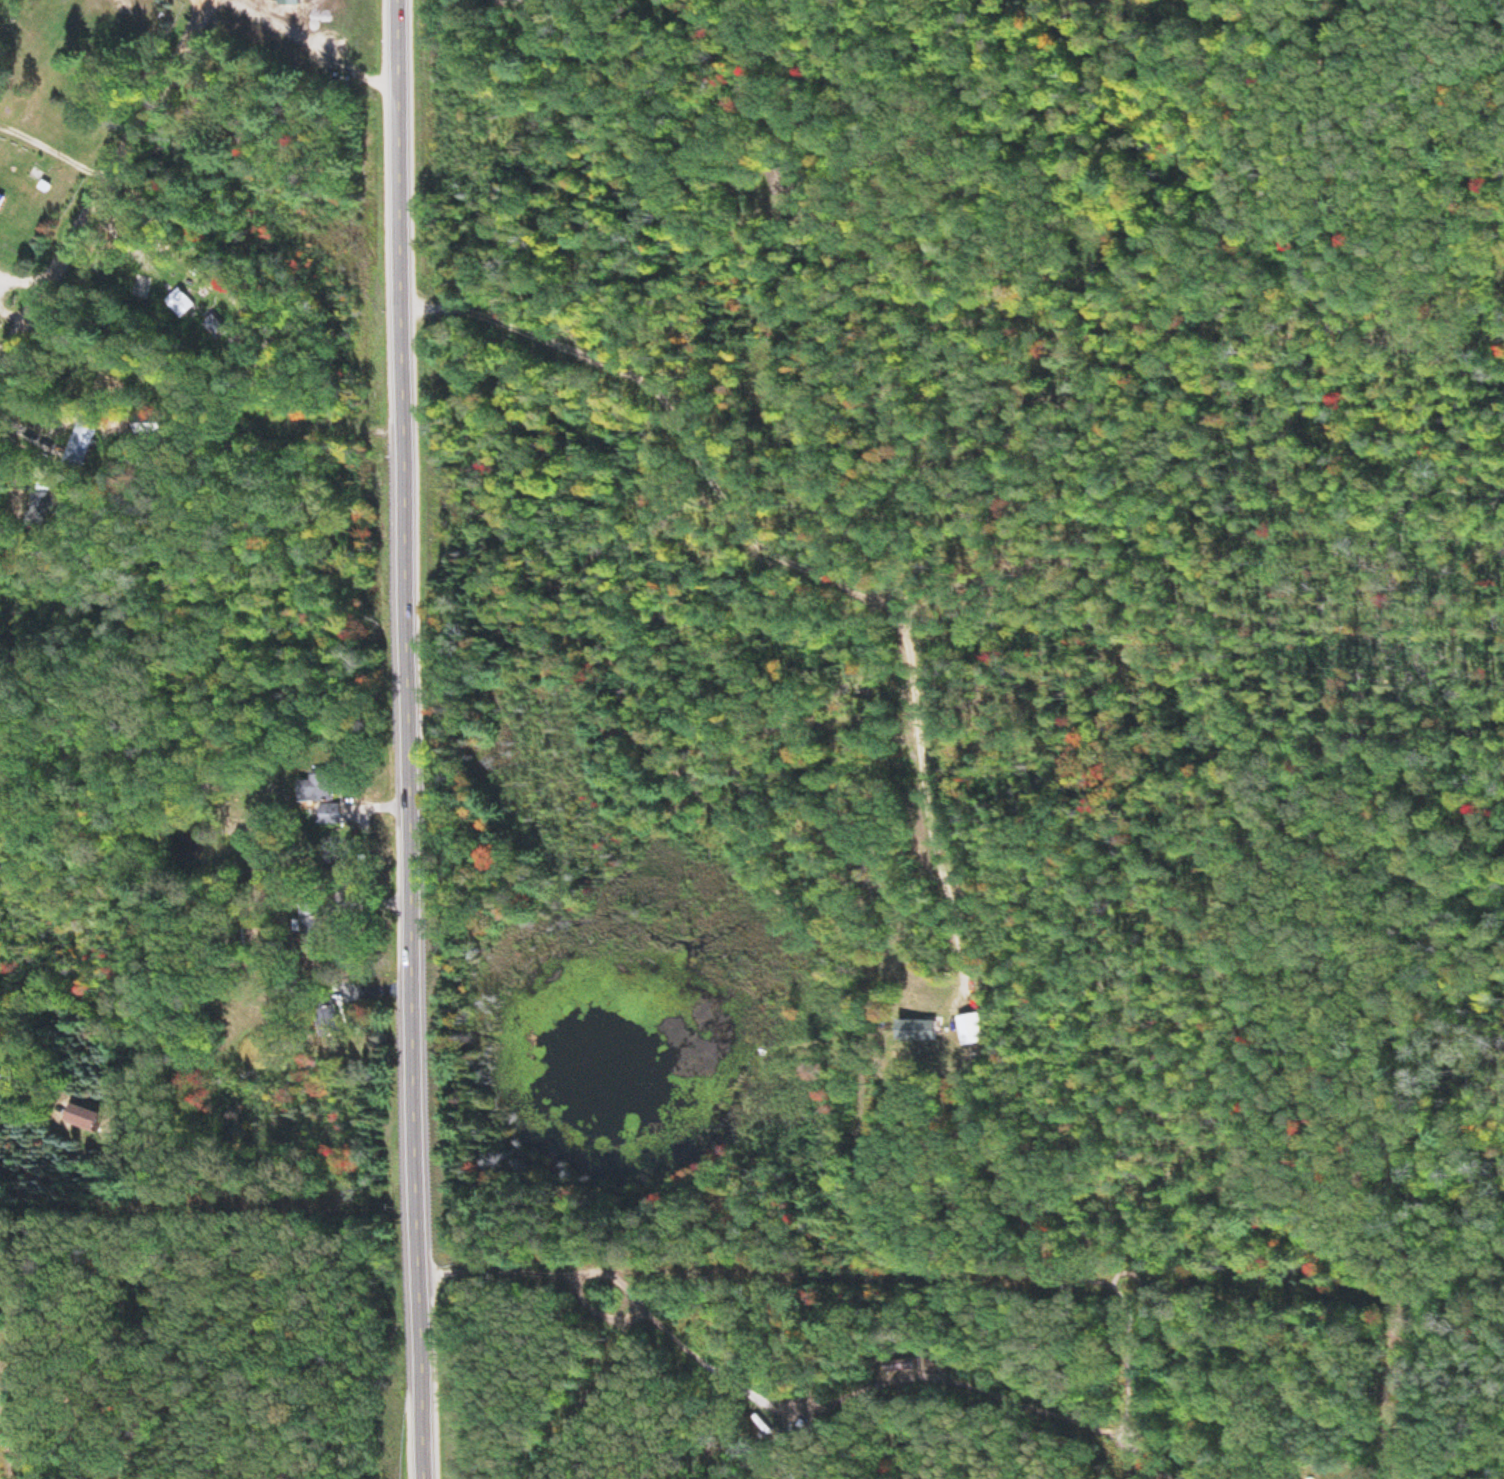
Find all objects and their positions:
road: (107, 173)
building: (1, 199)
building: (178, 306)
road: (3, 349)
road: (3, 356)
building: (92, 443)
building: (50, 503)
road: (810, 556)
road: (404, 739)
building: (326, 791)
building: (970, 1030)
building: (915, 1032)
building: (101, 1117)
road: (1449, 1470)

